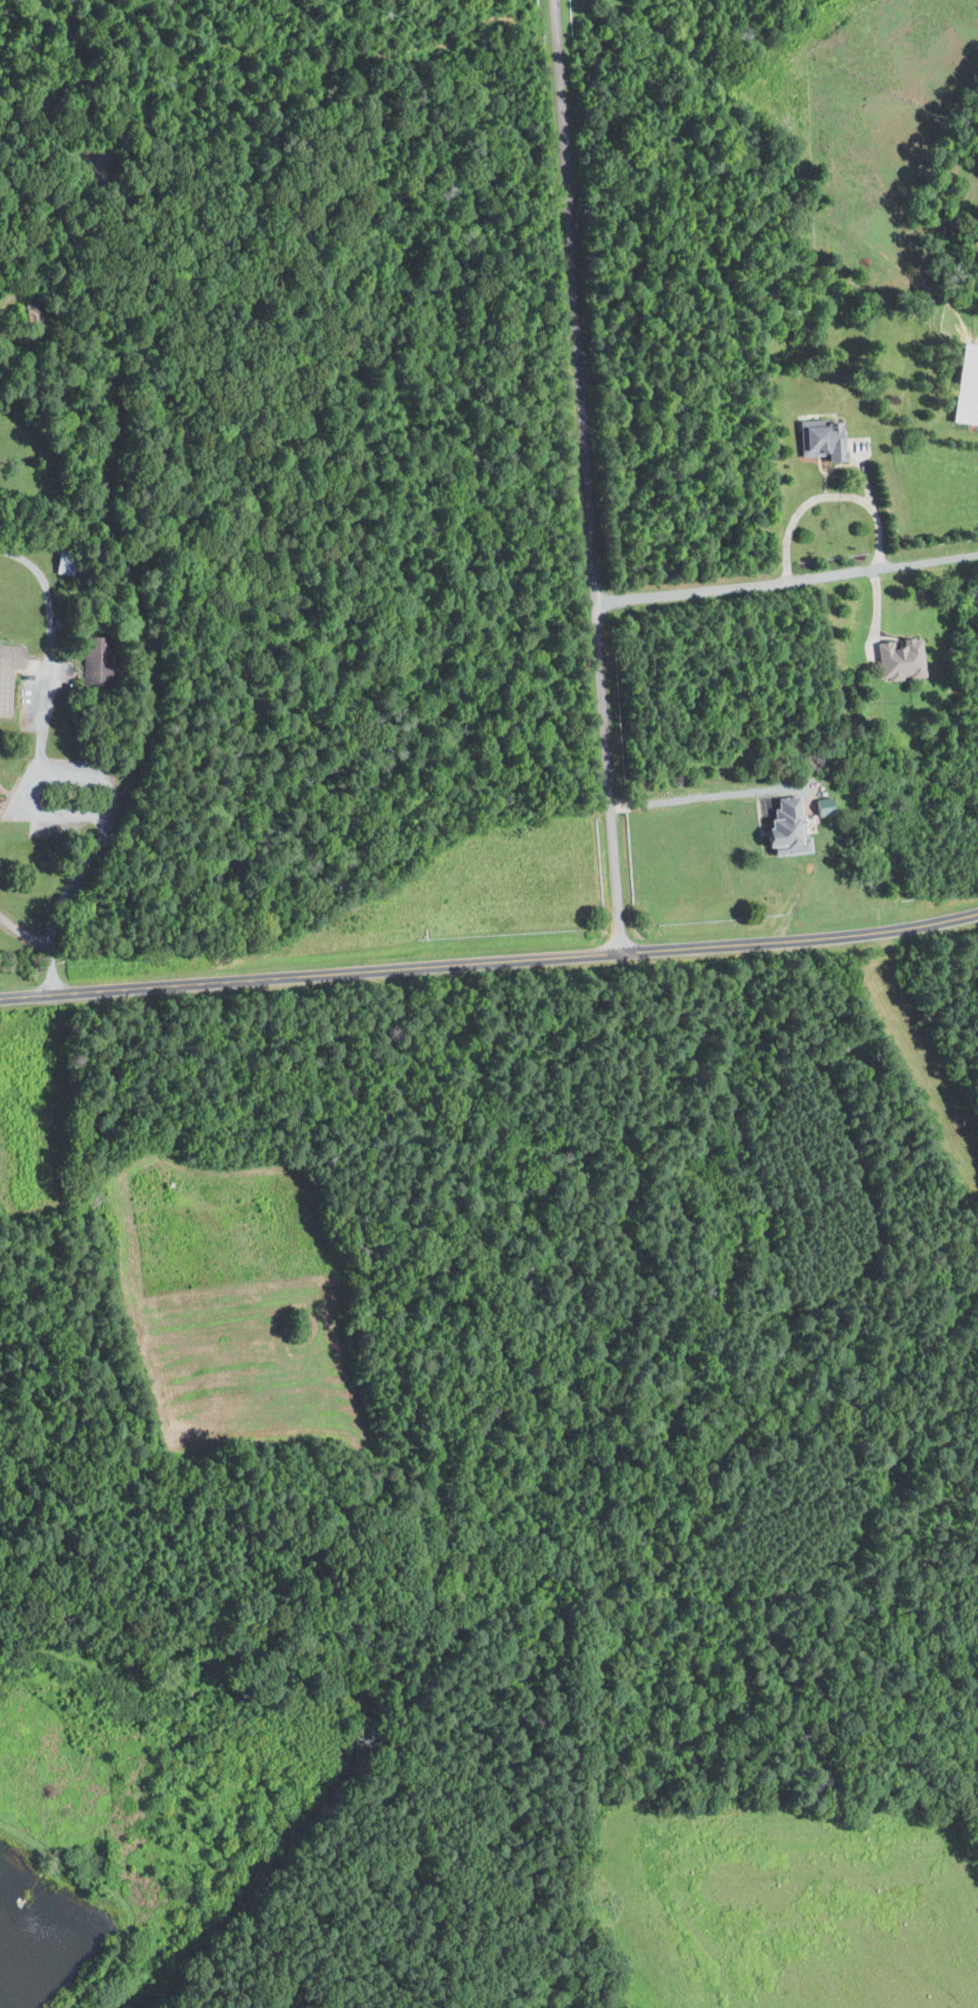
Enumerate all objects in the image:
road: (565, 81)
building: (966, 385)
building: (819, 438)
road: (865, 481)
road: (829, 495)
road: (599, 557)
road: (790, 580)
building: (898, 658)
building: (95, 661)
building: (8, 672)
road: (688, 799)
road: (114, 803)
building: (821, 806)
road: (50, 817)
building: (784, 828)
road: (490, 960)

